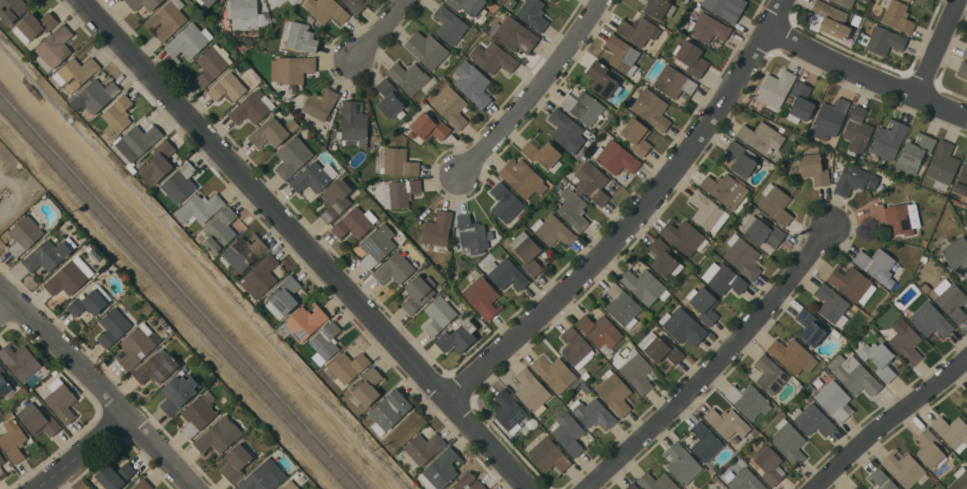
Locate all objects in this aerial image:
building: (862, 0)
building: (910, 0)
building: (279, 1)
building: (291, 1)
building: (206, 2)
building: (845, 2)
building: (143, 3)
building: (510, 4)
building: (355, 5)
building: (470, 6)
building: (659, 8)
building: (726, 8)
building: (11, 10)
building: (327, 10)
building: (246, 14)
building: (533, 14)
building: (897, 16)
building: (831, 18)
building: (167, 19)
building: (857, 20)
building: (449, 24)
building: (33, 25)
building: (707, 28)
road: (380, 29)
building: (638, 29)
building: (514, 34)
building: (300, 36)
building: (883, 40)
building: (188, 42)
road: (936, 46)
building: (54, 47)
building: (426, 49)
building: (965, 52)
building: (622, 54)
building: (493, 57)
building: (690, 58)
building: (212, 63)
building: (291, 68)
road: (866, 68)
building: (962, 68)
building: (76, 72)
building: (408, 76)
building: (601, 79)
building: (674, 82)
building: (473, 83)
building: (230, 86)
building: (776, 87)
building: (966, 87)
road: (535, 89)
building: (95, 94)
building: (389, 98)
building: (320, 103)
building: (801, 103)
building: (582, 105)
building: (451, 106)
building: (251, 108)
building: (651, 108)
building: (117, 116)
building: (829, 118)
building: (353, 124)
building: (428, 127)
building: (303, 130)
building: (566, 130)
building: (857, 130)
building: (272, 132)
building: (787, 132)
building: (637, 135)
building: (761, 137)
building: (888, 138)
building: (137, 142)
building: (832, 143)
building: (915, 152)
building: (542, 153)
building: (292, 157)
building: (616, 158)
building: (740, 158)
building: (394, 161)
building: (159, 162)
building: (942, 163)
building: (814, 166)
building: (133, 170)
building: (314, 177)
building: (522, 177)
building: (854, 179)
building: (961, 181)
building: (591, 182)
building: (180, 183)
building: (725, 189)
building: (400, 192)
building: (335, 199)
building: (505, 202)
building: (775, 203)
building: (200, 208)
building: (574, 208)
building: (708, 211)
road: (637, 217)
building: (895, 217)
building: (354, 222)
building: (437, 229)
building: (220, 230)
building: (553, 230)
building: (762, 231)
building: (24, 233)
building: (471, 234)
building: (683, 236)
road: (310, 244)
building: (377, 245)
building: (527, 251)
building: (243, 252)
building: (48, 254)
building: (957, 254)
building: (743, 256)
building: (663, 258)
building: (877, 265)
building: (394, 267)
building: (697, 271)
building: (506, 273)
building: (259, 276)
building: (66, 278)
building: (723, 278)
building: (852, 282)
railway: (187, 283)
building: (644, 285)
railway: (181, 290)
building: (417, 292)
building: (283, 296)
railway: (175, 297)
building: (483, 297)
building: (951, 299)
building: (90, 301)
building: (704, 304)
building: (832, 304)
building: (623, 305)
building: (855, 307)
road: (7, 308)
building: (148, 308)
building: (868, 310)
building: (438, 315)
building: (931, 319)
building: (305, 321)
building: (454, 325)
building: (113, 326)
building: (683, 326)
building: (810, 327)
building: (602, 332)
building: (836, 333)
building: (457, 337)
building: (906, 340)
building: (325, 341)
building: (135, 346)
building: (576, 347)
building: (660, 348)
building: (792, 354)
building: (880, 359)
building: (19, 360)
road: (712, 363)
building: (346, 366)
building: (157, 368)
building: (54, 371)
building: (637, 371)
building: (555, 373)
building: (585, 374)
building: (770, 374)
building: (853, 374)
building: (5, 384)
building: (799, 385)
road: (97, 386)
building: (366, 387)
building: (585, 388)
building: (532, 390)
building: (178, 392)
building: (615, 392)
building: (966, 397)
building: (60, 399)
building: (749, 399)
building: (834, 400)
building: (389, 410)
building: (508, 410)
building: (593, 413)
building: (197, 414)
building: (812, 419)
building: (38, 420)
road: (887, 420)
building: (727, 421)
building: (531, 422)
building: (754, 430)
building: (952, 431)
building: (568, 432)
building: (219, 434)
building: (735, 438)
building: (12, 439)
building: (705, 441)
building: (788, 441)
building: (758, 442)
building: (423, 447)
building: (931, 448)
road: (84, 453)
building: (549, 455)
building: (1, 459)
building: (236, 462)
building: (681, 462)
building: (770, 465)
building: (904, 468)
building: (441, 469)
building: (2, 473)
building: (114, 475)
building: (264, 476)
building: (960, 479)
building: (744, 480)
building: (882, 480)
building: (657, 481)
building: (468, 482)
building: (142, 484)
building: (631, 486)
building: (282, 487)
building: (723, 488)
building: (724, 488)
building: (855, 488)

